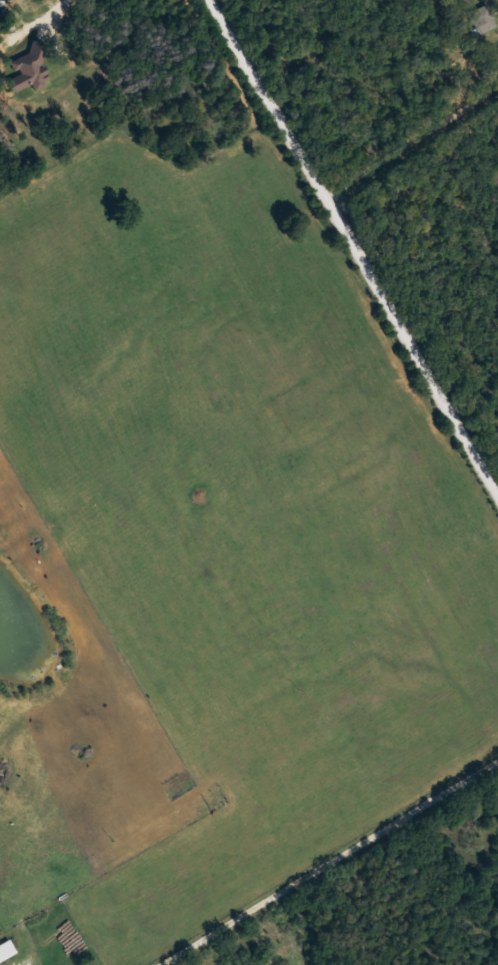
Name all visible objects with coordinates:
building: (486, 17)
road: (356, 240)
road: (234, 569)

